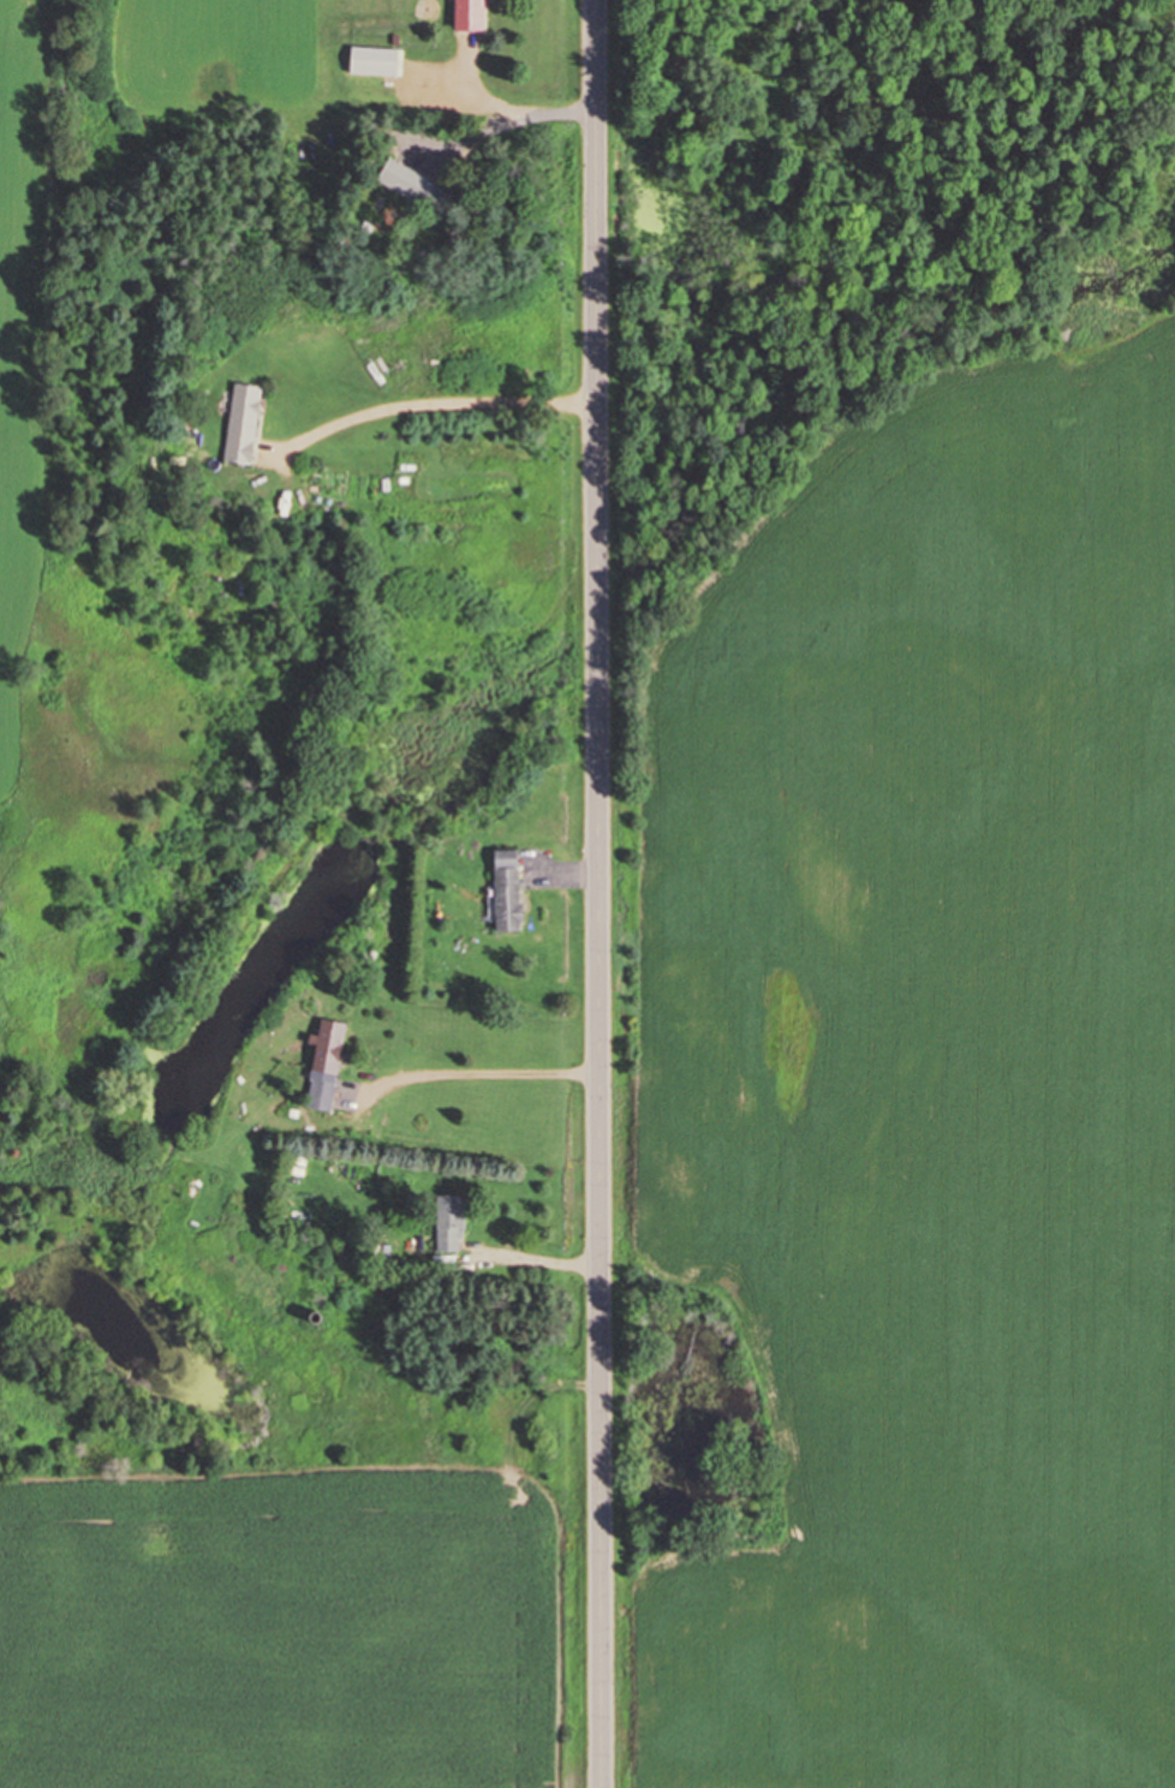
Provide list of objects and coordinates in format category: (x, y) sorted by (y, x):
building: (466, 14)
building: (371, 59)
building: (412, 185)
building: (240, 422)
building: (505, 889)
road: (600, 894)
building: (323, 1063)
building: (447, 1223)

